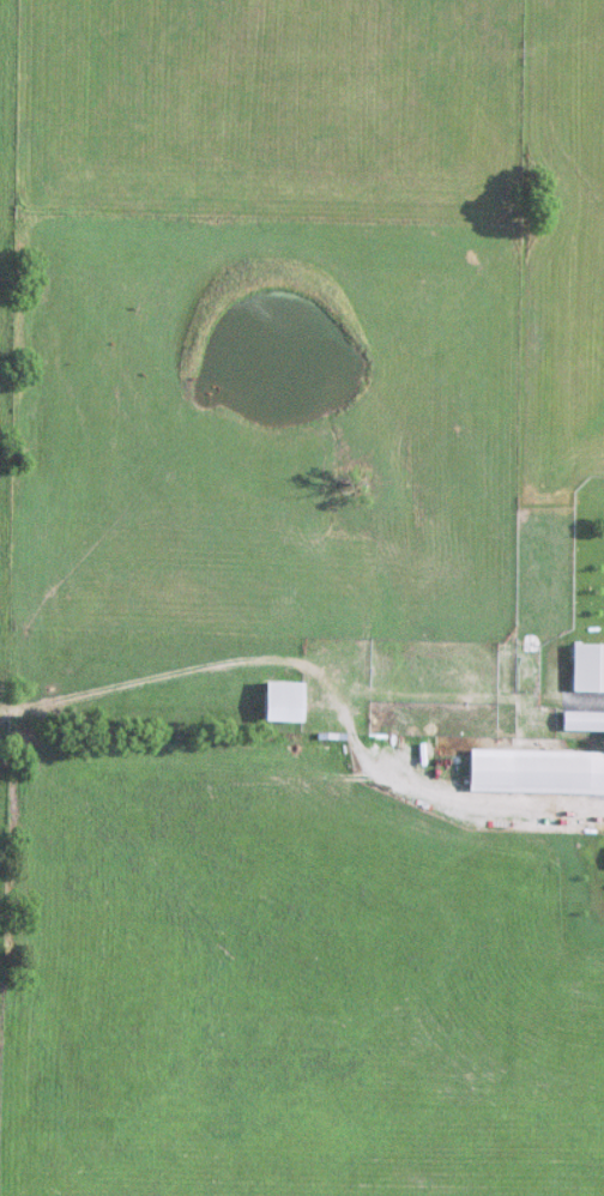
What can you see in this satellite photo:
building: (586, 668)
building: (278, 702)
building: (581, 721)
building: (533, 772)

